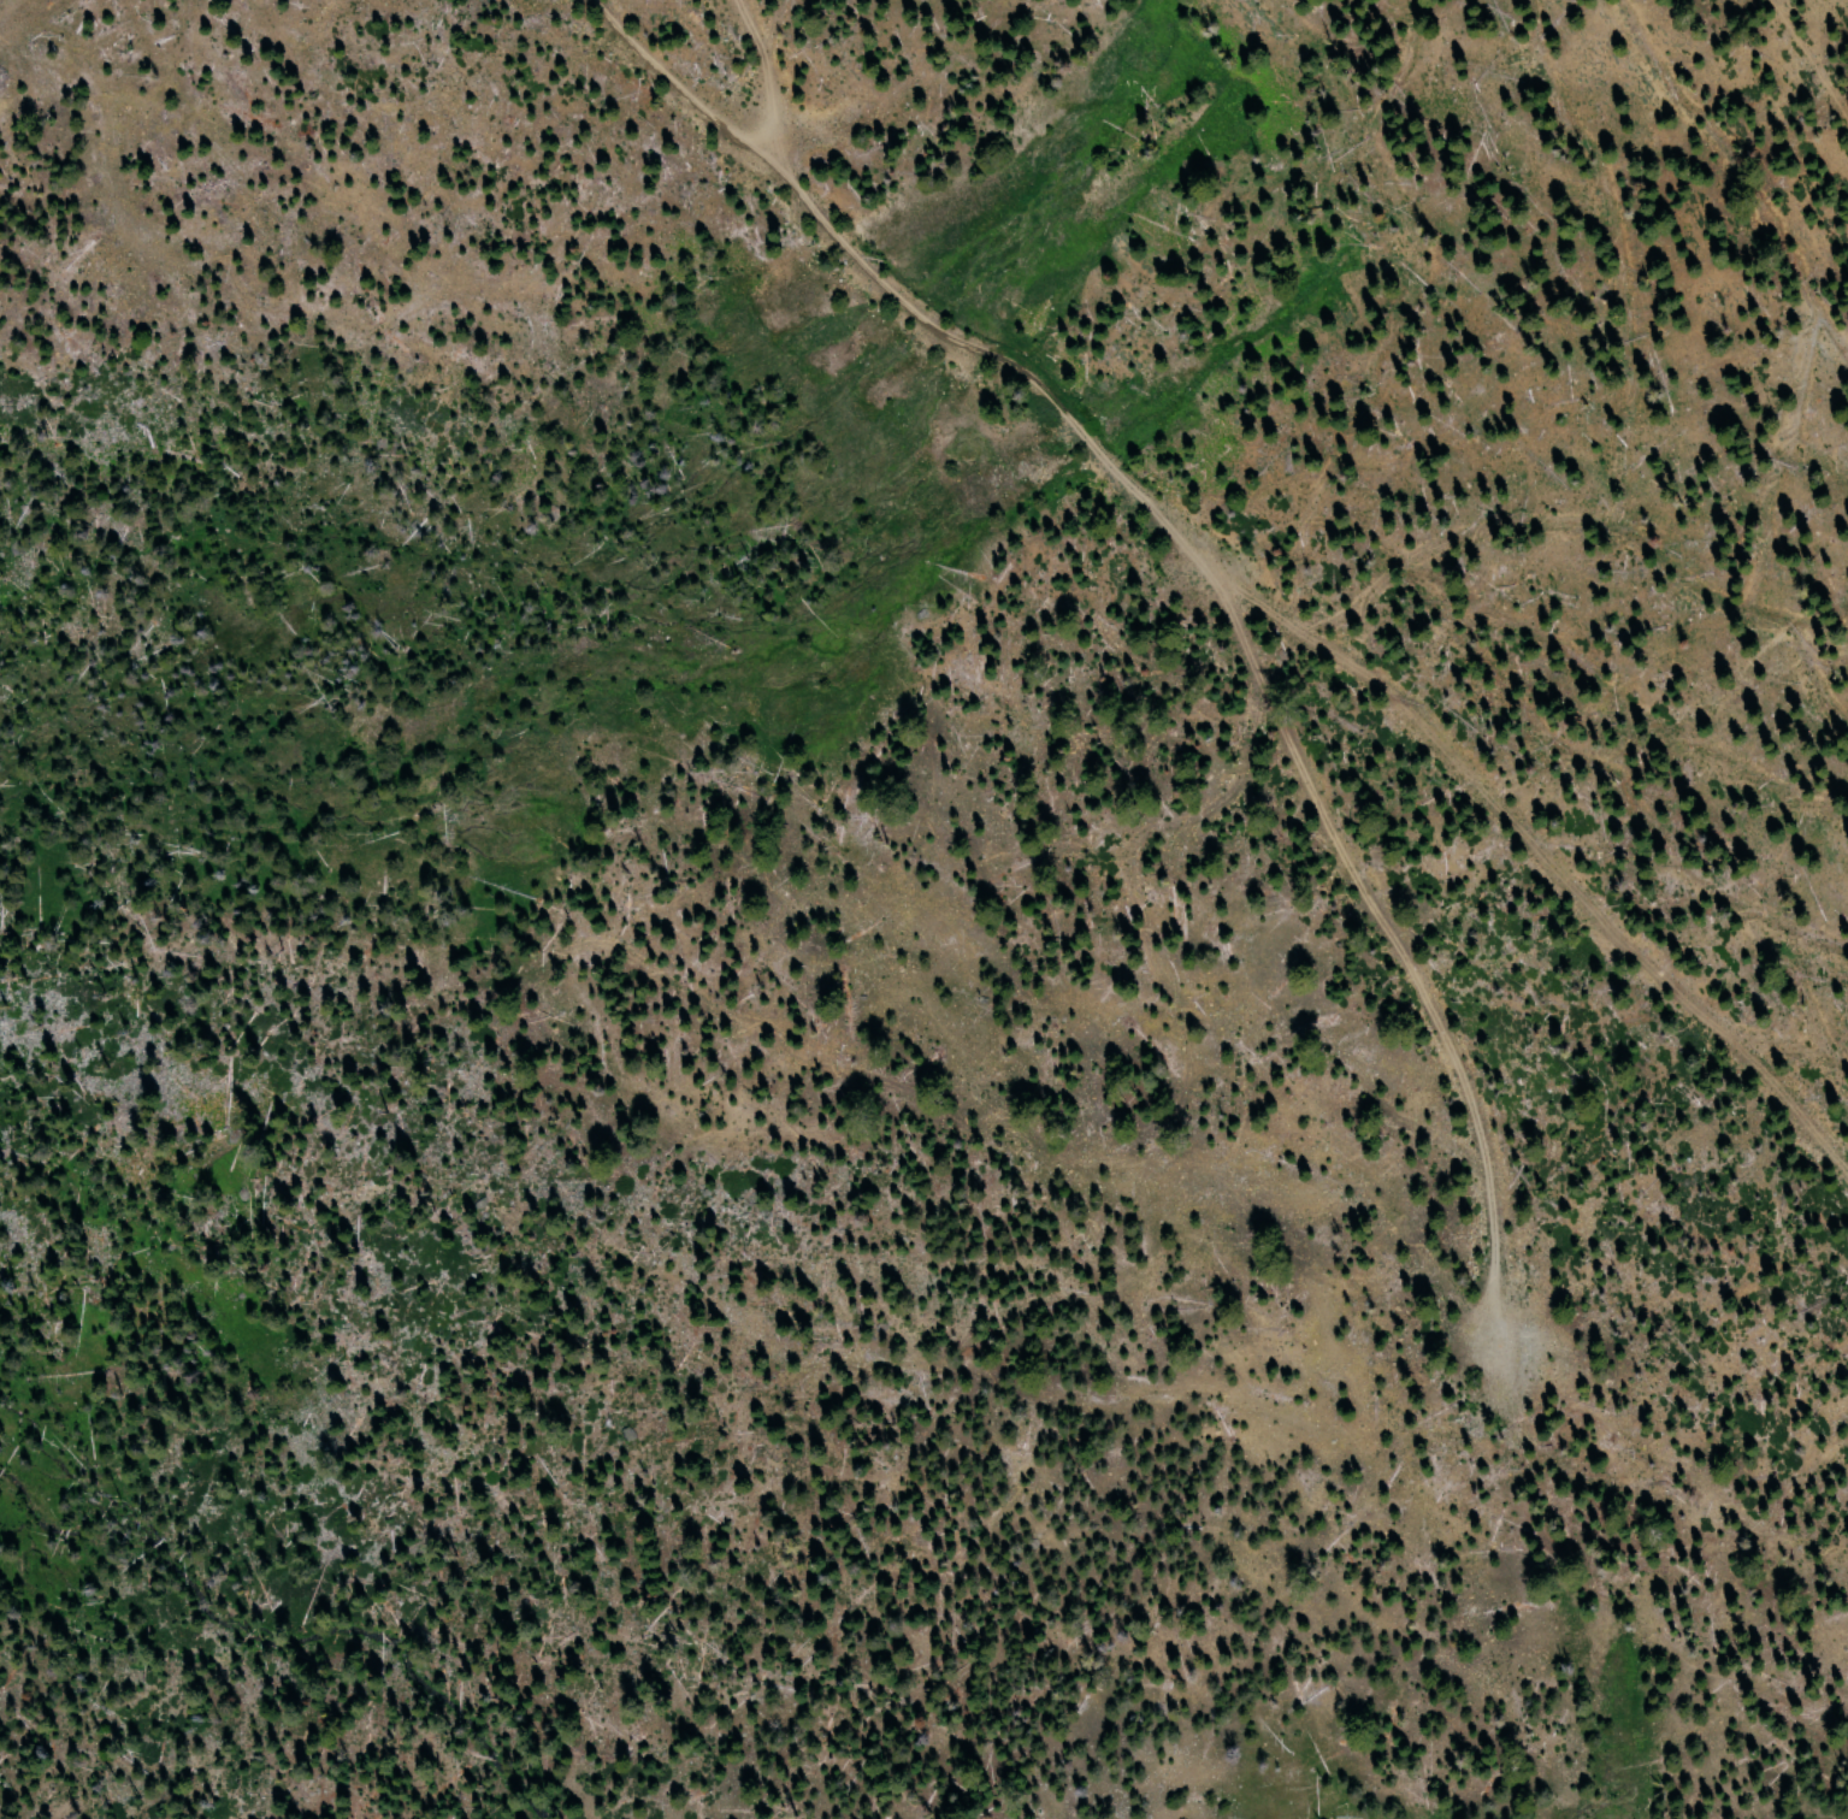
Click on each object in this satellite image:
road: (691, 82)
road: (1787, 84)
road: (1265, 590)
road: (909, 709)
road: (1419, 957)
road: (1630, 1589)

